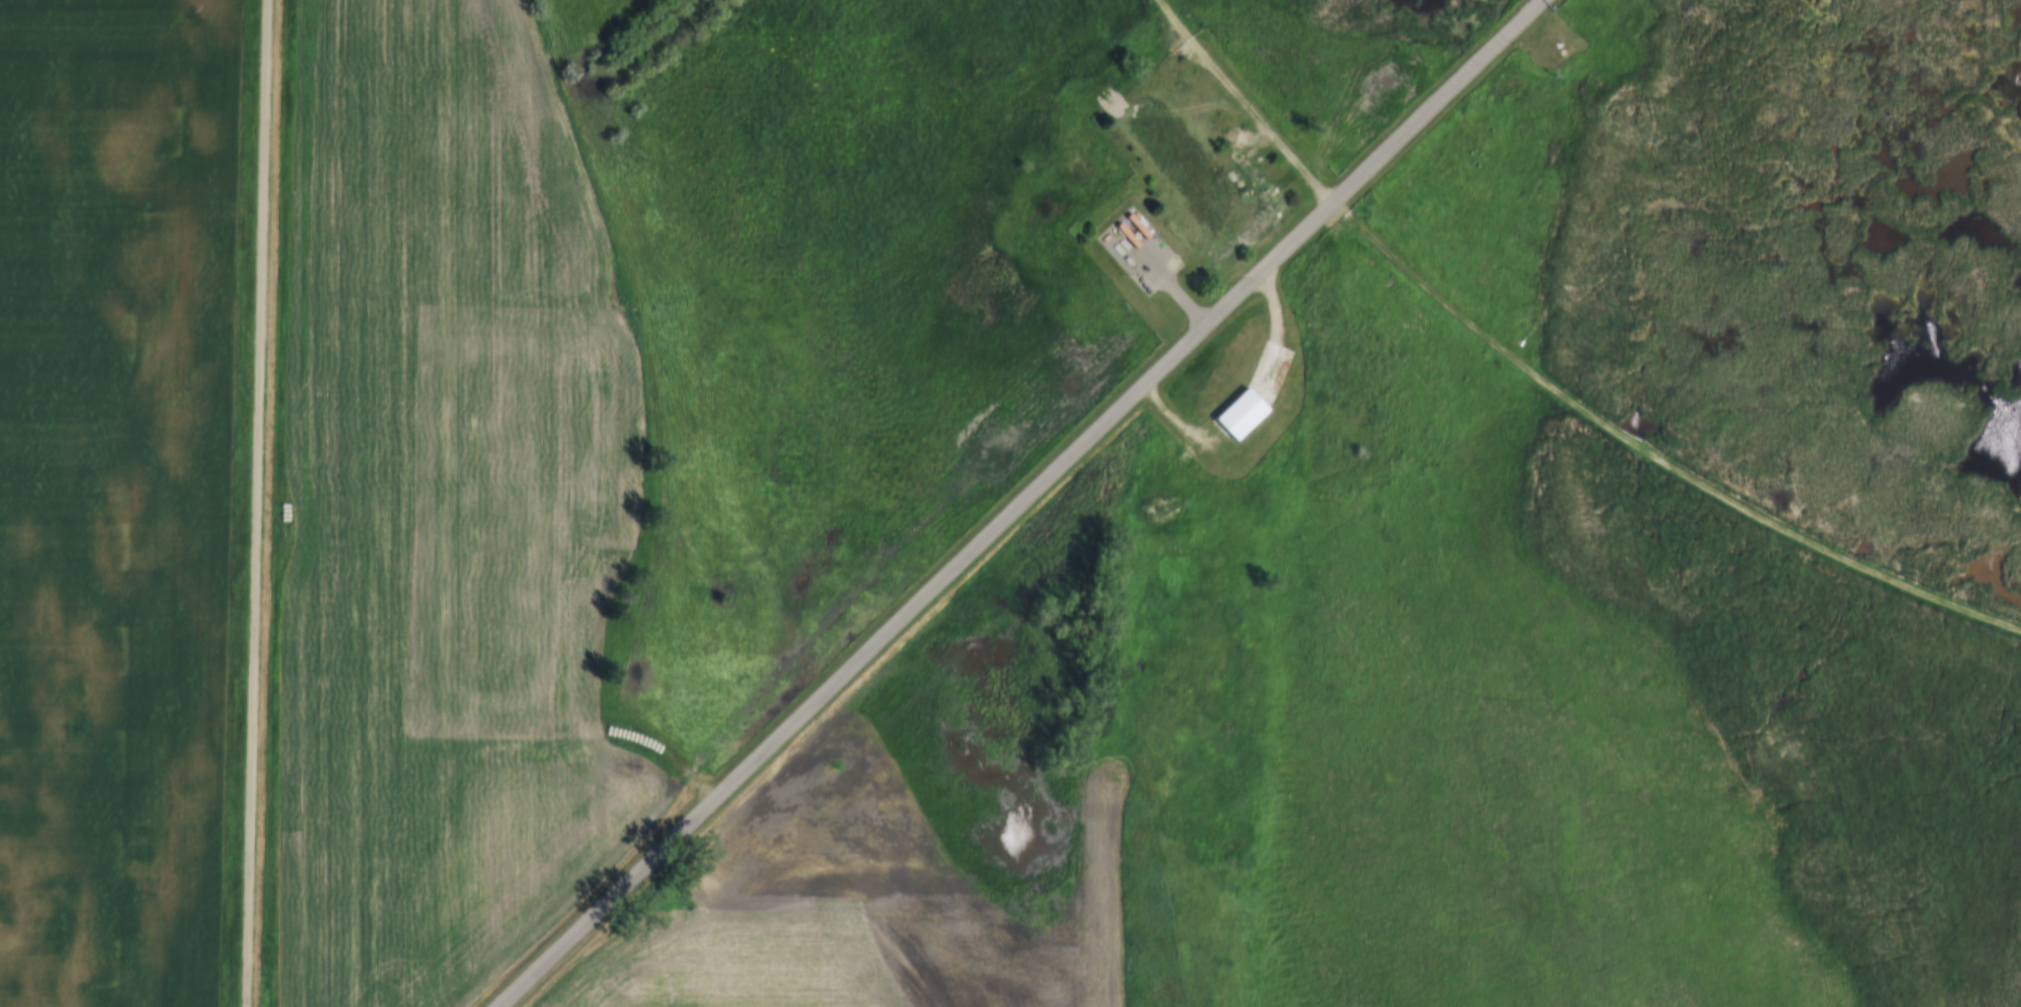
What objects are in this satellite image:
building: (434, 135)
parking lot: (1144, 251)
road: (1550, 377)
building: (1244, 414)
road: (1018, 498)
road: (258, 503)

